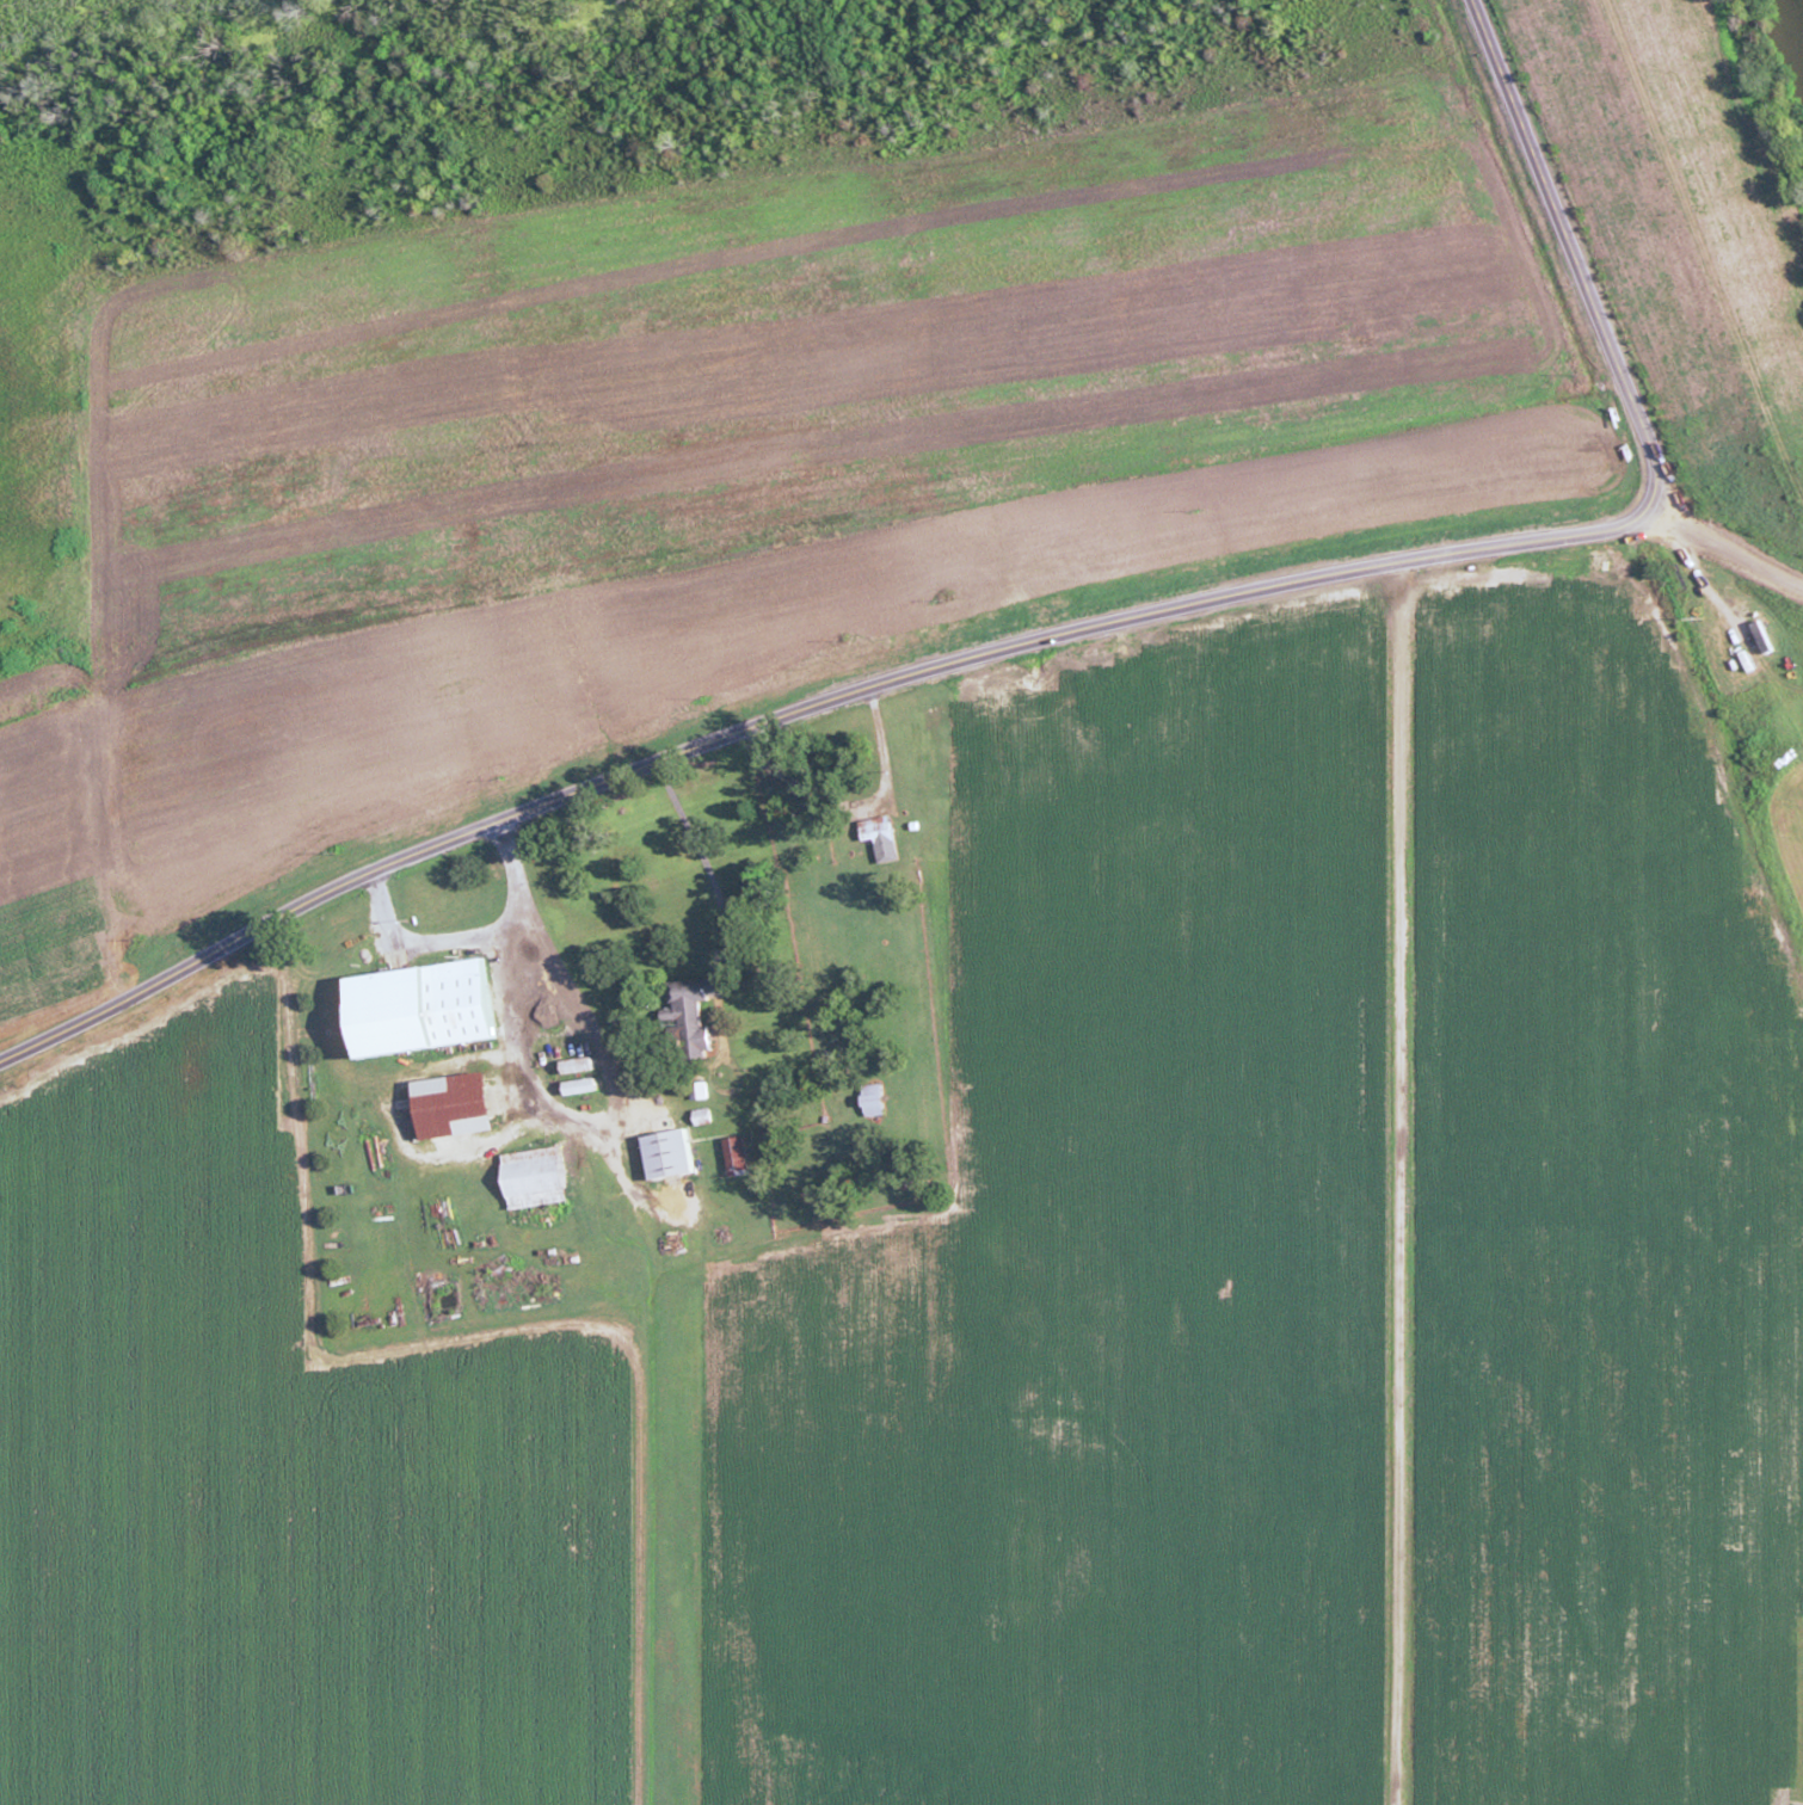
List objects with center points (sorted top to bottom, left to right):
road: (1702, 248)
road: (1728, 554)
road: (1076, 630)
building: (885, 845)
building: (694, 1011)
building: (703, 1091)
building: (878, 1104)
building: (671, 1156)
building: (738, 1156)
road: (1399, 1185)
road: (648, 1298)

